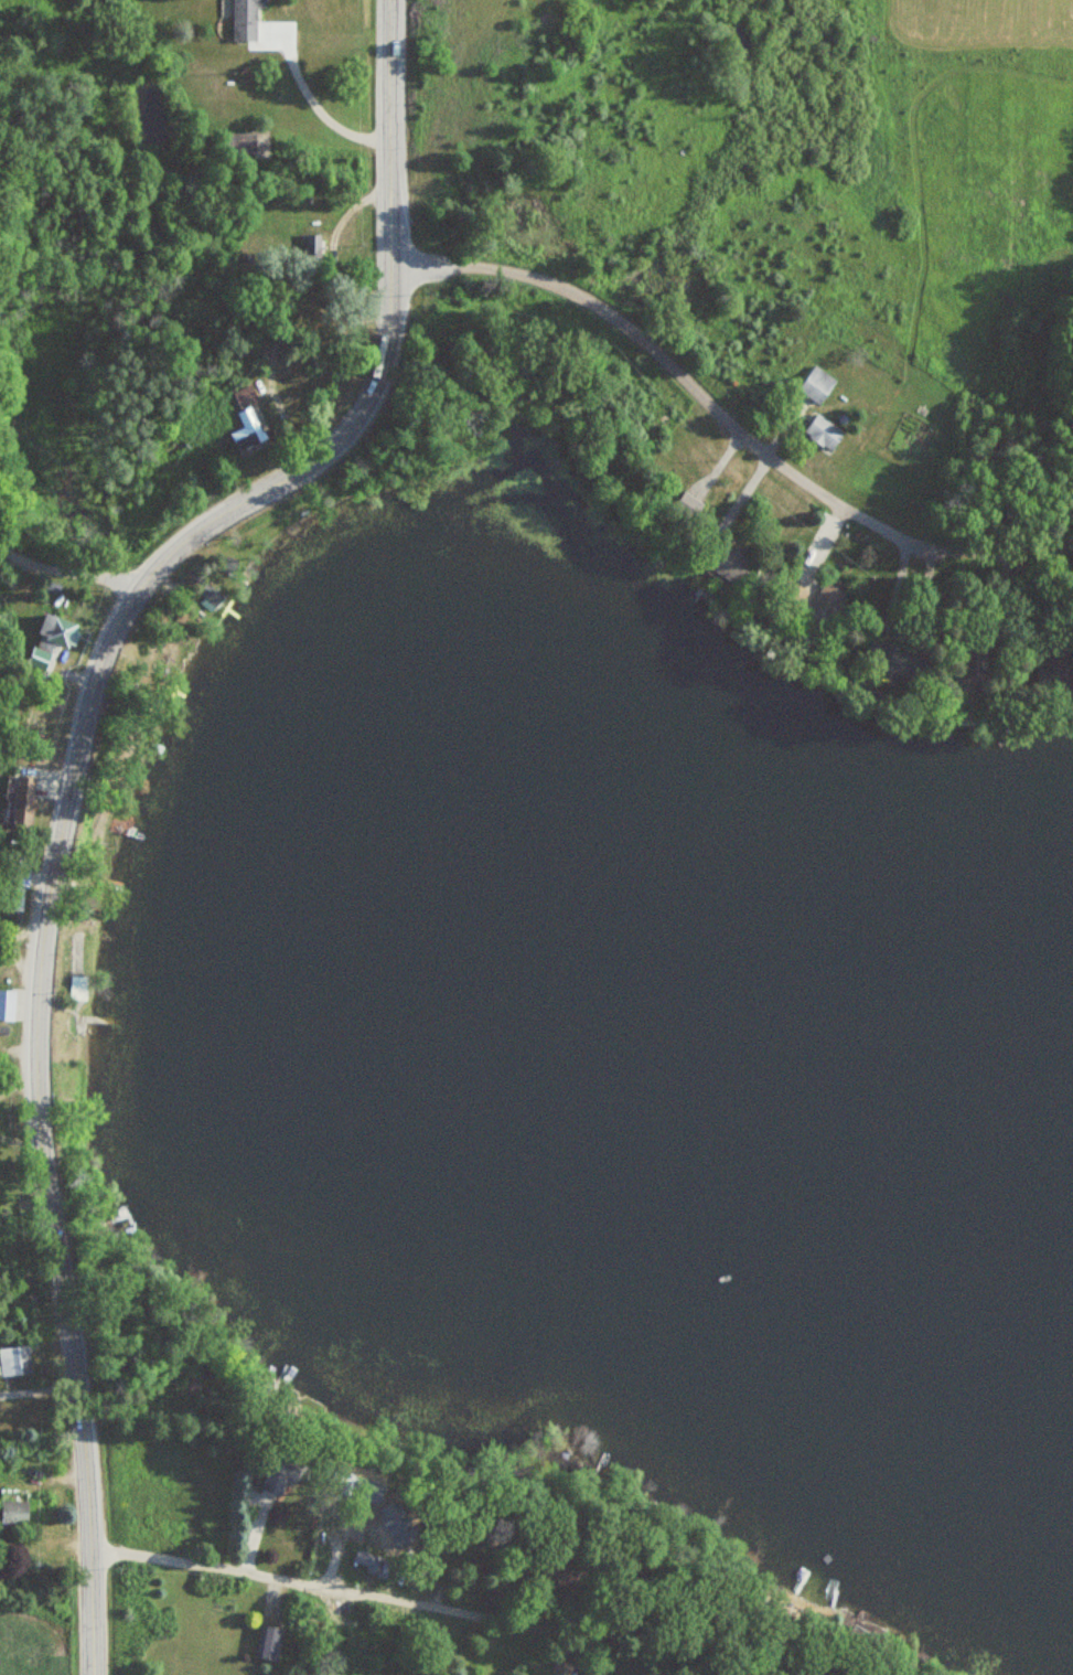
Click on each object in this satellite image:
building: (245, 20)
building: (815, 385)
road: (730, 418)
building: (249, 422)
building: (823, 433)
building: (212, 601)
building: (60, 632)
building: (976, 668)
building: (1056, 681)
road: (77, 775)
building: (26, 803)
building: (79, 988)
building: (14, 1359)
building: (282, 1471)
building: (13, 1507)
building: (371, 1562)
road: (297, 1580)
building: (268, 1642)
building: (562, 1668)
building: (790, 1674)

